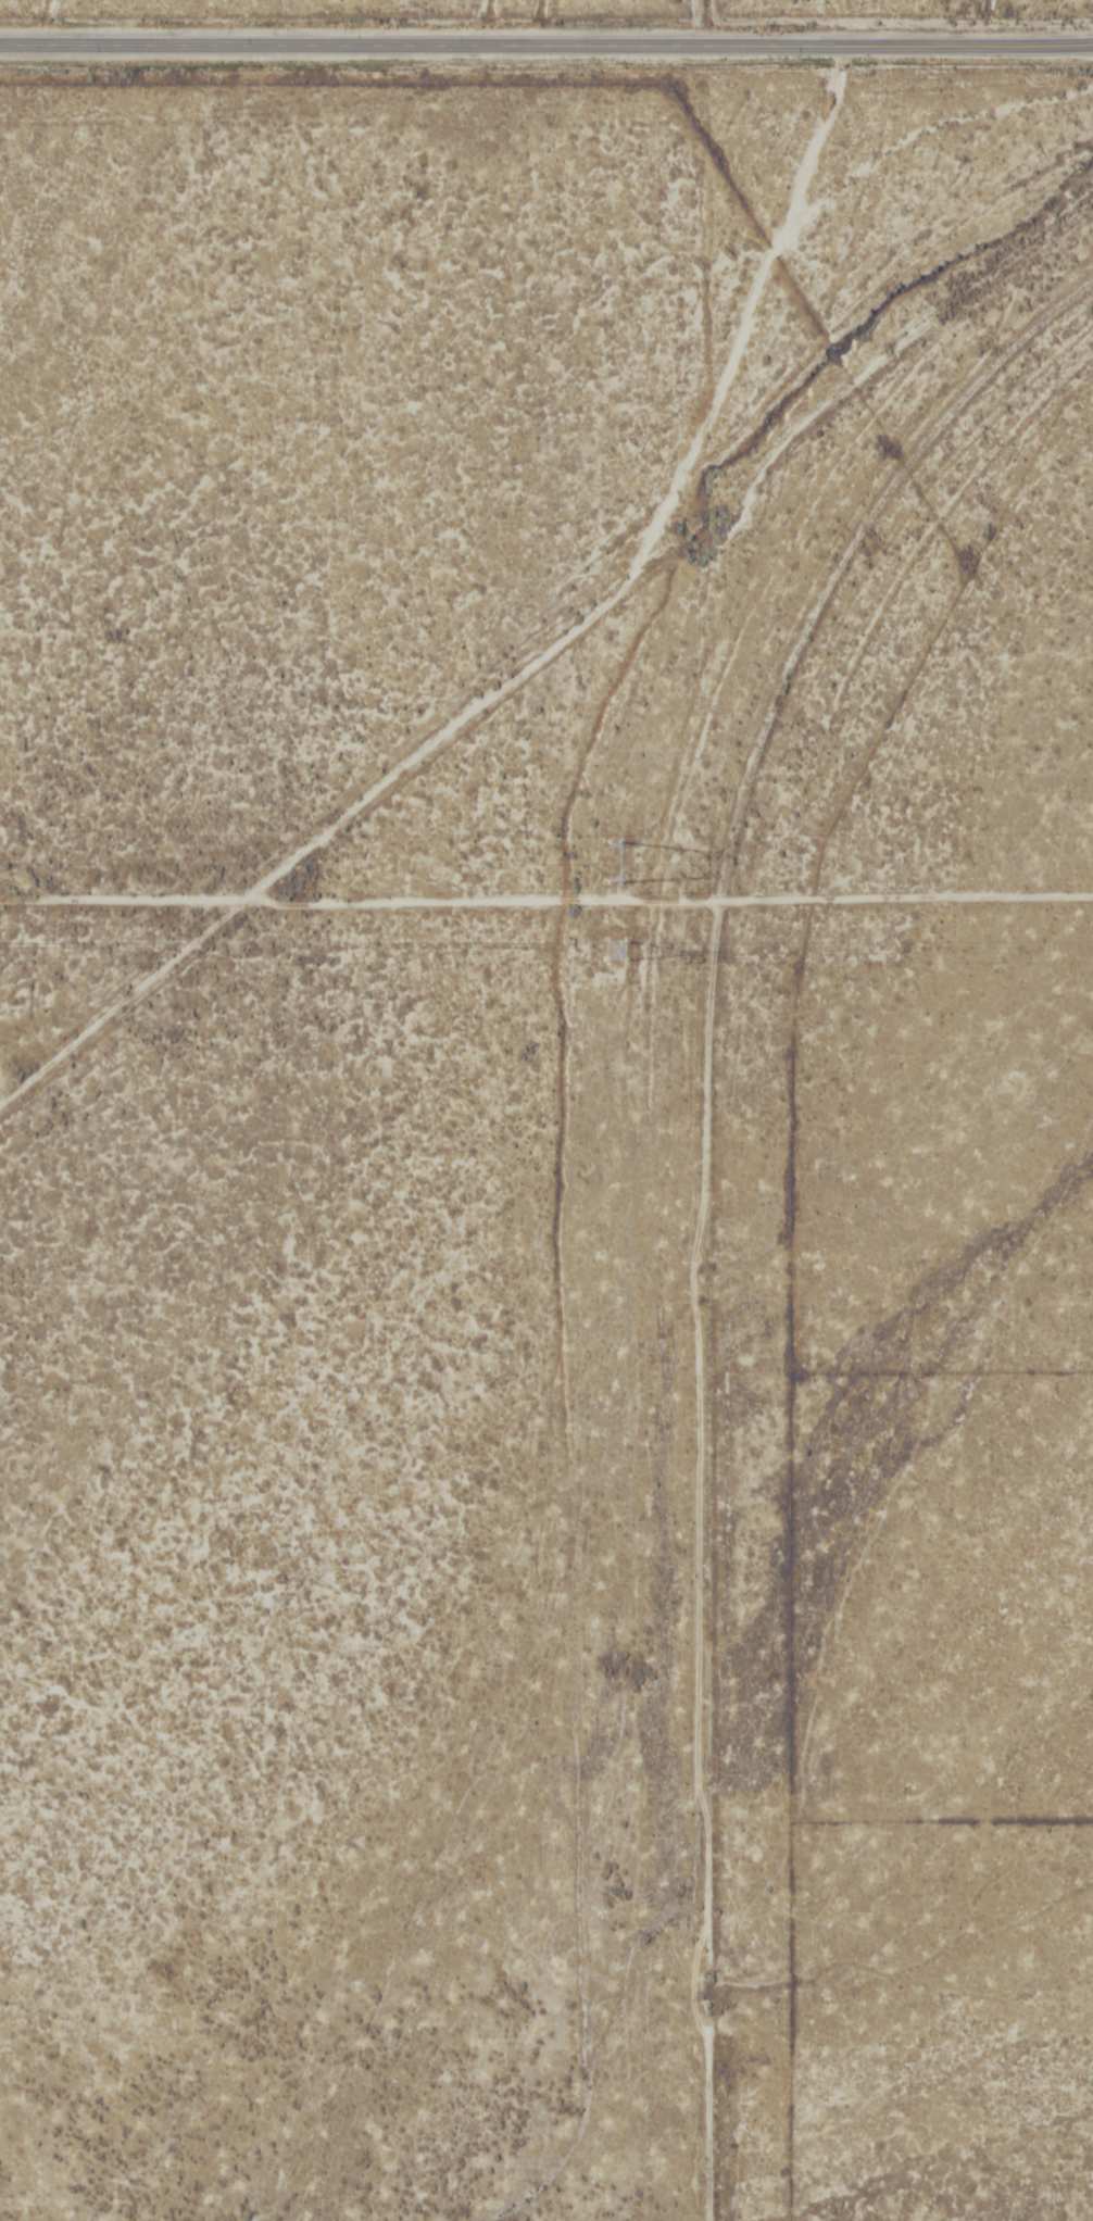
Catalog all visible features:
road: (700, 22)
road: (546, 43)
power tower: (630, 865)
power tower: (623, 952)

